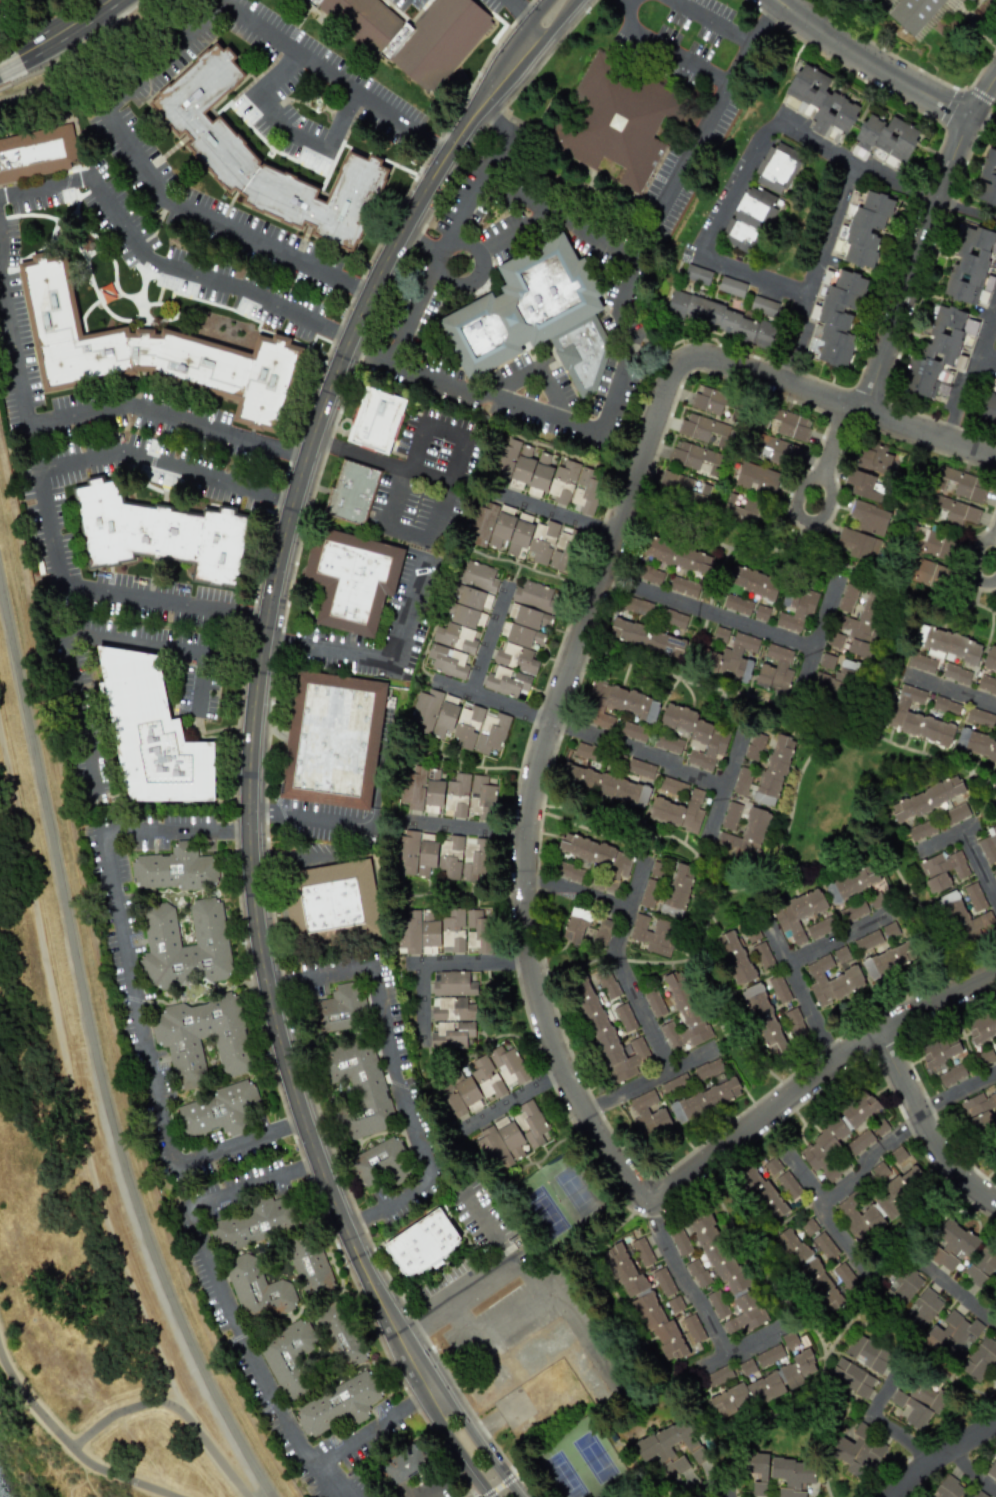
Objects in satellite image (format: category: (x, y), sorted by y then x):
building: (971, 0)
building: (860, 2)
road: (8, 4)
road: (522, 12)
building: (914, 14)
road: (623, 16)
road: (713, 18)
building: (411, 35)
road: (64, 42)
road: (677, 58)
road: (166, 59)
road: (869, 63)
road: (274, 72)
road: (340, 74)
road: (4, 85)
road: (716, 101)
building: (820, 101)
road: (342, 115)
road: (983, 120)
building: (615, 122)
road: (285, 129)
building: (885, 140)
building: (218, 147)
building: (36, 153)
road: (857, 165)
building: (778, 168)
building: (987, 179)
road: (737, 185)
road: (966, 210)
road: (558, 216)
road: (222, 220)
building: (748, 220)
building: (862, 229)
road: (512, 231)
road: (923, 238)
road: (419, 243)
road: (443, 246)
road: (824, 249)
road: (439, 253)
road: (159, 261)
building: (971, 266)
building: (697, 274)
road: (754, 276)
building: (731, 286)
road: (625, 287)
building: (763, 306)
building: (534, 315)
building: (835, 318)
building: (721, 319)
road: (989, 332)
building: (148, 350)
building: (939, 354)
road: (989, 359)
road: (513, 378)
road: (553, 393)
road: (960, 395)
building: (711, 400)
building: (989, 404)
road: (517, 405)
road: (90, 411)
building: (377, 419)
building: (787, 424)
road: (445, 429)
building: (703, 429)
building: (772, 449)
road: (829, 454)
building: (694, 457)
road: (166, 459)
building: (873, 459)
road: (403, 470)
building: (547, 476)
building: (756, 477)
building: (961, 484)
building: (680, 485)
building: (864, 486)
building: (351, 492)
road: (396, 497)
building: (740, 508)
road: (557, 511)
building: (953, 511)
road: (442, 515)
building: (869, 518)
building: (160, 532)
building: (522, 536)
building: (932, 543)
building: (857, 544)
road: (992, 554)
building: (678, 555)
building: (651, 574)
building: (929, 574)
building: (351, 579)
building: (752, 581)
building: (684, 586)
road: (110, 589)
building: (848, 598)
building: (737, 604)
building: (637, 606)
building: (796, 607)
road: (707, 611)
building: (761, 612)
building: (672, 617)
building: (463, 620)
building: (858, 627)
road: (85, 632)
building: (646, 637)
building: (522, 638)
road: (486, 640)
building: (948, 645)
road: (812, 653)
building: (730, 654)
road: (373, 655)
road: (231, 657)
building: (990, 659)
building: (826, 661)
building: (921, 663)
building: (775, 668)
building: (956, 673)
building: (836, 681)
building: (987, 684)
road: (949, 688)
road: (488, 700)
building: (617, 703)
building: (945, 705)
building: (917, 717)
building: (979, 717)
building: (458, 722)
building: (633, 731)
building: (151, 732)
building: (696, 734)
road: (250, 736)
building: (331, 739)
building: (667, 743)
building: (976, 745)
building: (754, 746)
building: (585, 751)
road: (638, 752)
building: (640, 768)
building: (774, 770)
building: (741, 781)
building: (670, 785)
road: (722, 795)
building: (927, 798)
building: (678, 811)
building: (955, 813)
building: (731, 816)
road: (309, 819)
road: (466, 827)
road: (526, 828)
building: (921, 830)
road: (945, 834)
building: (745, 836)
building: (988, 845)
building: (452, 857)
building: (596, 859)
road: (977, 864)
building: (174, 868)
building: (656, 869)
building: (941, 870)
building: (568, 871)
building: (995, 873)
building: (855, 880)
building: (677, 890)
building: (649, 893)
building: (974, 896)
road: (597, 898)
building: (334, 899)
building: (853, 911)
building: (797, 914)
building: (966, 920)
building: (576, 923)
building: (820, 927)
building: (446, 931)
building: (601, 932)
road: (618, 932)
building: (653, 934)
road: (839, 935)
building: (184, 945)
building: (763, 956)
building: (889, 959)
road: (437, 962)
building: (832, 980)
building: (452, 983)
building: (608, 985)
building: (779, 989)
road: (800, 989)
road: (132, 997)
building: (654, 1002)
building: (339, 1007)
building: (454, 1007)
road: (641, 1014)
building: (683, 1016)
building: (625, 1017)
building: (763, 1019)
building: (793, 1020)
building: (984, 1028)
building: (607, 1033)
building: (452, 1035)
building: (176, 1042)
road: (95, 1051)
building: (939, 1053)
road: (395, 1068)
building: (951, 1075)
building: (481, 1077)
road: (649, 1080)
road: (68, 1087)
building: (358, 1087)
building: (707, 1096)
road: (513, 1099)
building: (219, 1110)
building: (978, 1110)
building: (649, 1116)
road: (925, 1128)
building: (837, 1136)
building: (511, 1137)
building: (859, 1142)
road: (881, 1152)
building: (897, 1154)
building: (379, 1163)
building: (772, 1165)
building: (879, 1170)
building: (788, 1185)
building: (761, 1193)
park: (559, 1200)
building: (878, 1203)
building: (252, 1223)
road: (486, 1231)
road: (843, 1235)
building: (421, 1240)
building: (679, 1241)
building: (952, 1245)
building: (825, 1246)
building: (642, 1251)
building: (308, 1264)
building: (981, 1265)
building: (807, 1269)
building: (697, 1272)
building: (845, 1276)
building: (663, 1282)
building: (901, 1283)
building: (256, 1289)
road: (223, 1293)
road: (456, 1297)
building: (644, 1298)
road: (962, 1299)
building: (674, 1303)
road: (702, 1307)
building: (924, 1307)
road: (511, 1330)
building: (339, 1335)
building: (952, 1336)
building: (867, 1353)
building: (288, 1357)
building: (980, 1358)
building: (718, 1376)
building: (851, 1377)
building: (769, 1380)
building: (919, 1402)
building: (337, 1403)
road: (171, 1409)
road: (879, 1418)
road: (372, 1433)
road: (932, 1447)
road: (70, 1448)
building: (653, 1450)
building: (858, 1452)
road: (192, 1460)
park: (581, 1460)
building: (403, 1463)
road: (968, 1467)
building: (992, 1468)
building: (757, 1471)
building: (792, 1475)
building: (947, 1488)
road: (421, 1490)
road: (483, 1491)
road: (511, 1492)
road: (500, 1494)
building: (649, 1494)
building: (975, 1494)

